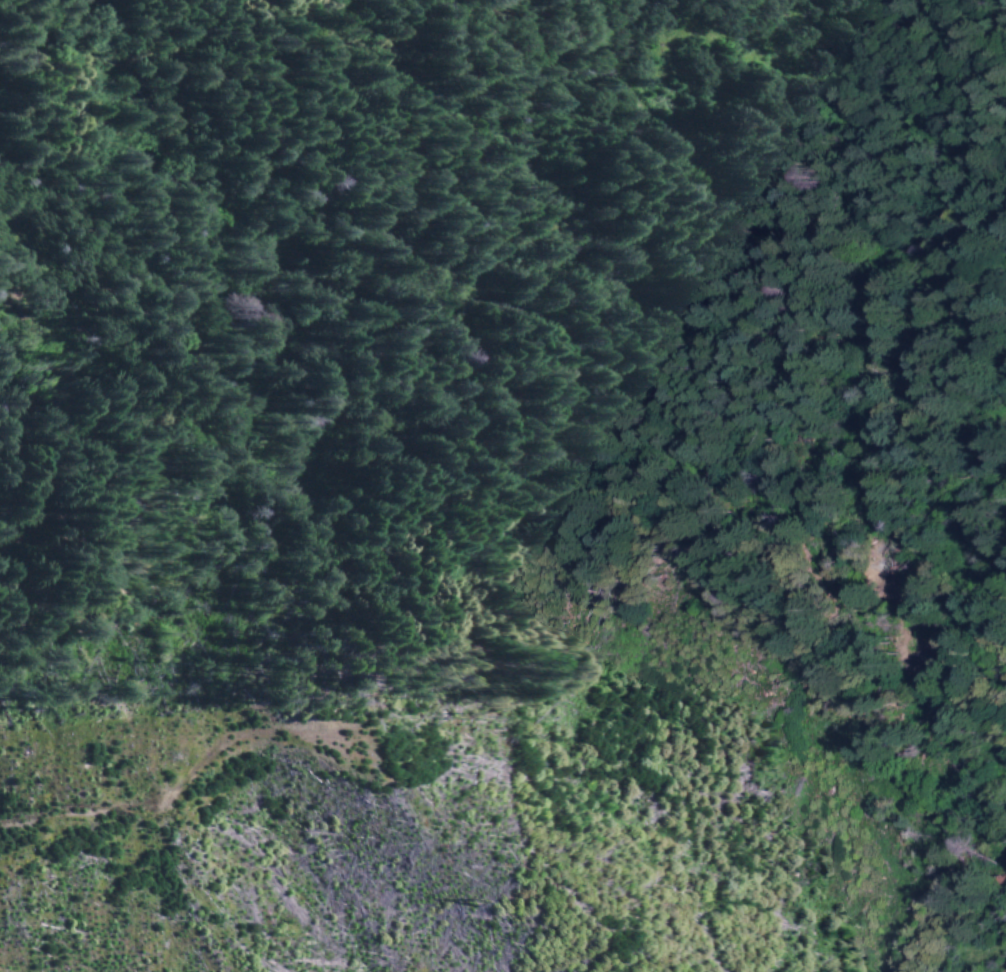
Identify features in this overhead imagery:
river: (959, 615)

